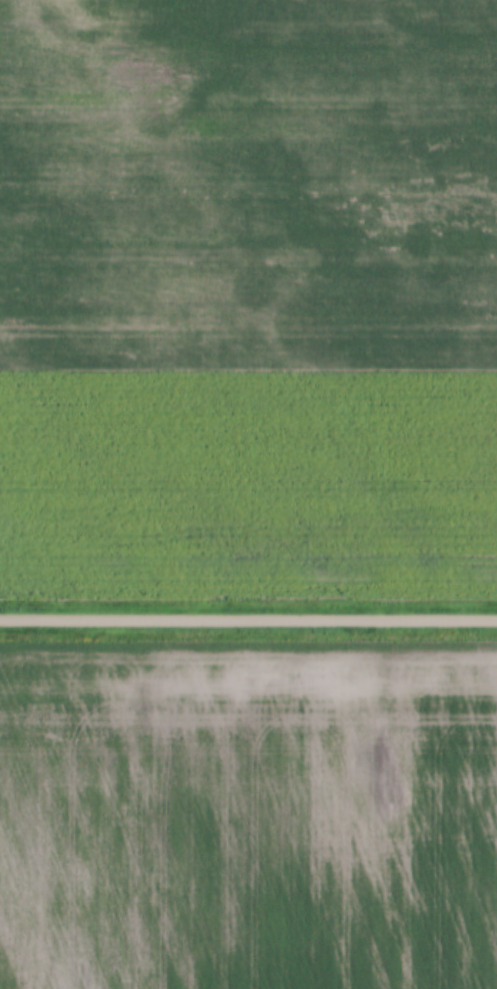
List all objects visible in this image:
road: (248, 620)

